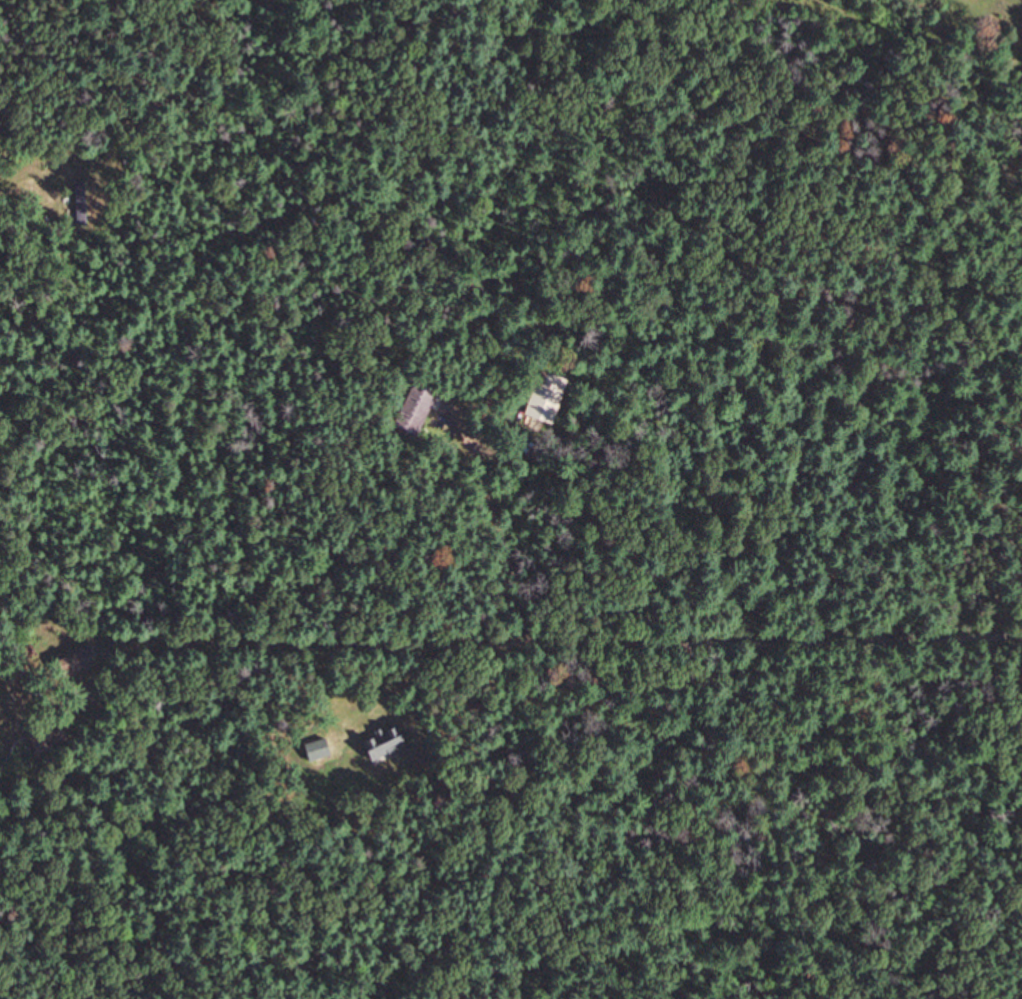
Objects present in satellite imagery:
building: (987, 5)
building: (80, 202)
building: (546, 398)
building: (419, 409)
road: (828, 641)
road: (474, 644)
building: (77, 661)
building: (49, 737)
building: (389, 745)

